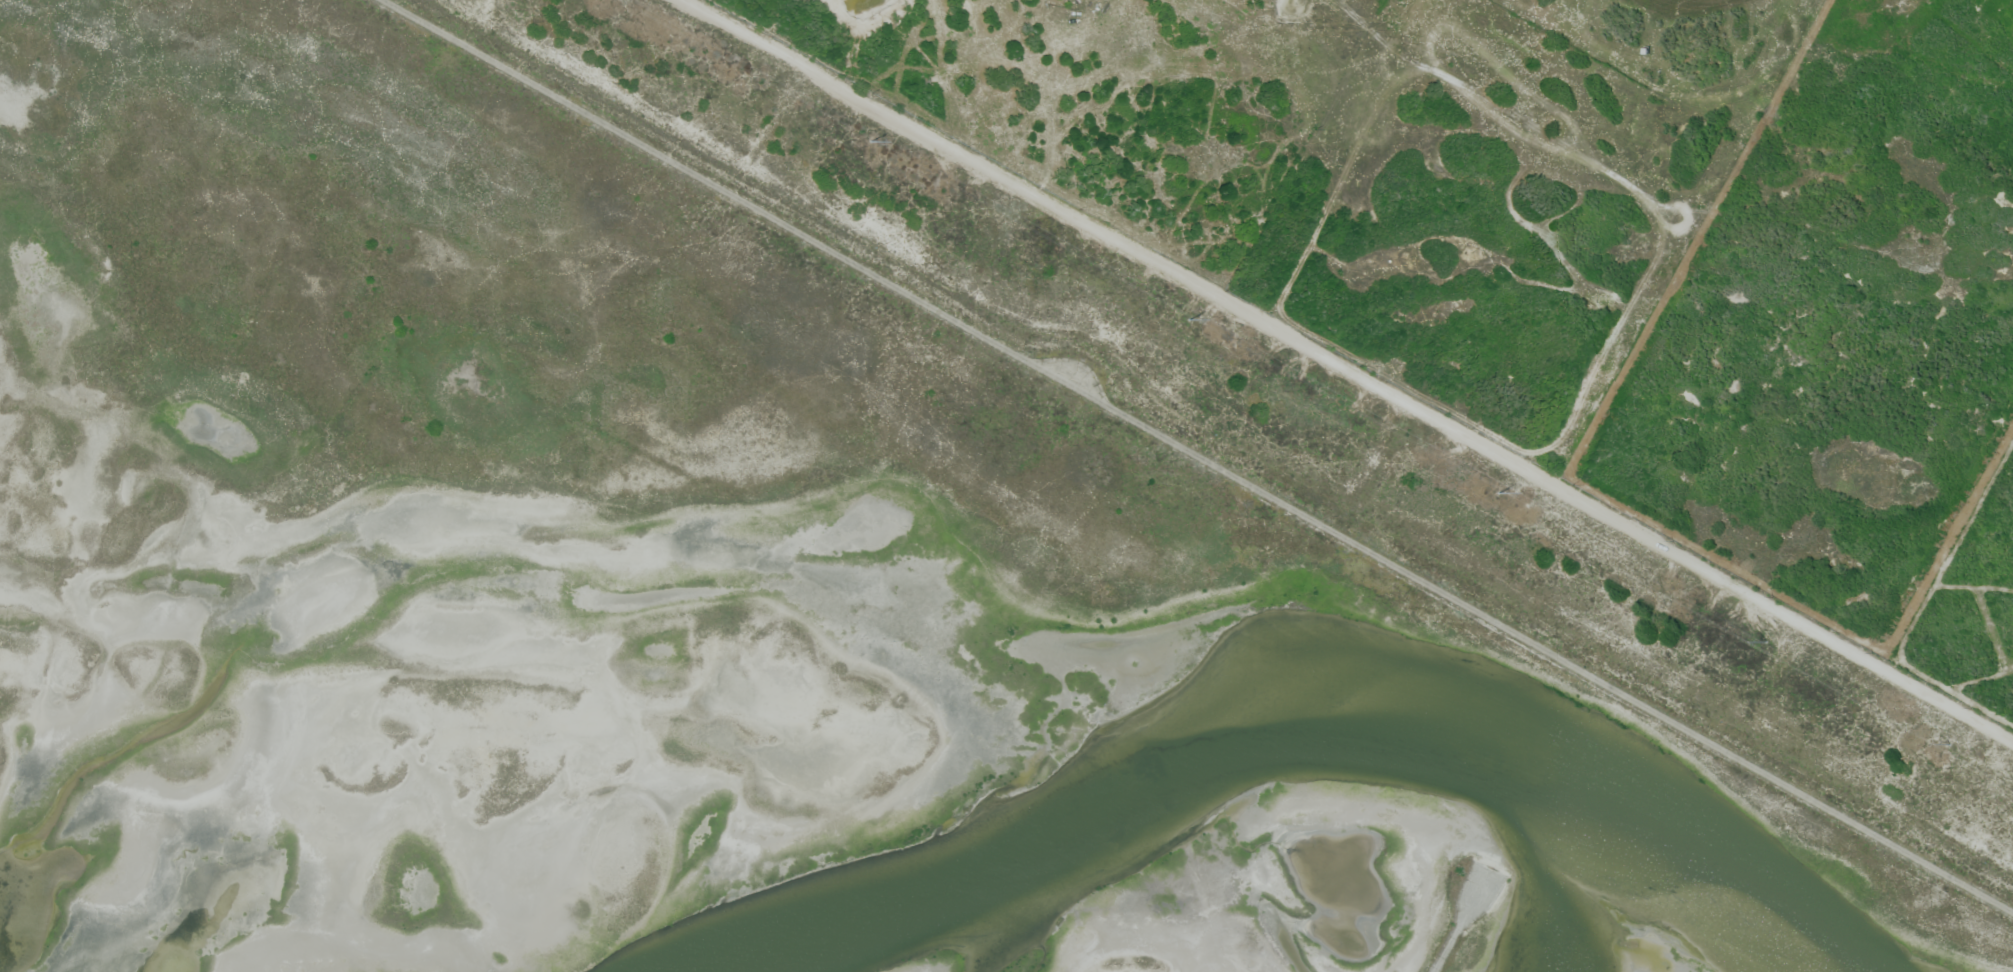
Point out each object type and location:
road: (1349, 371)
road: (1199, 456)
power plant: (822, 564)
road: (1455, 930)

